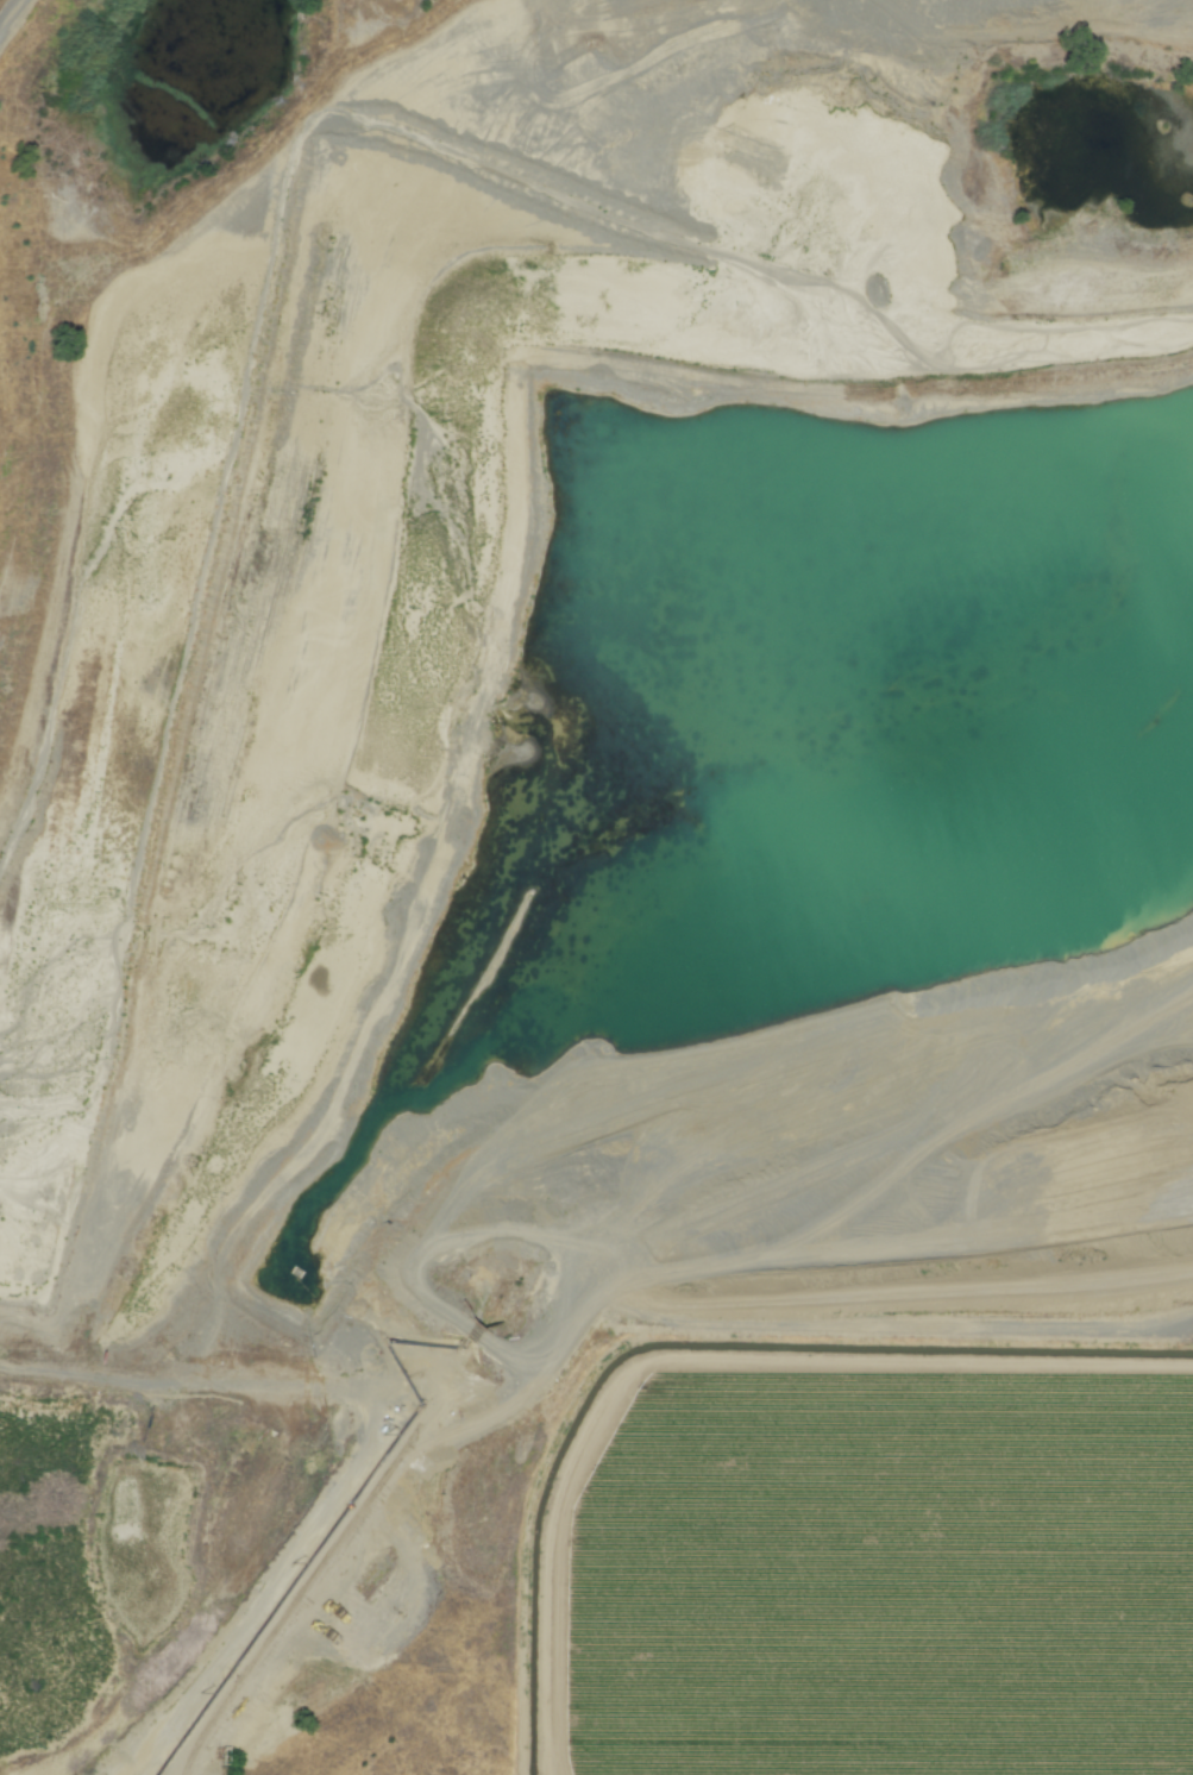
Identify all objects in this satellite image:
quarry: (574, 796)

